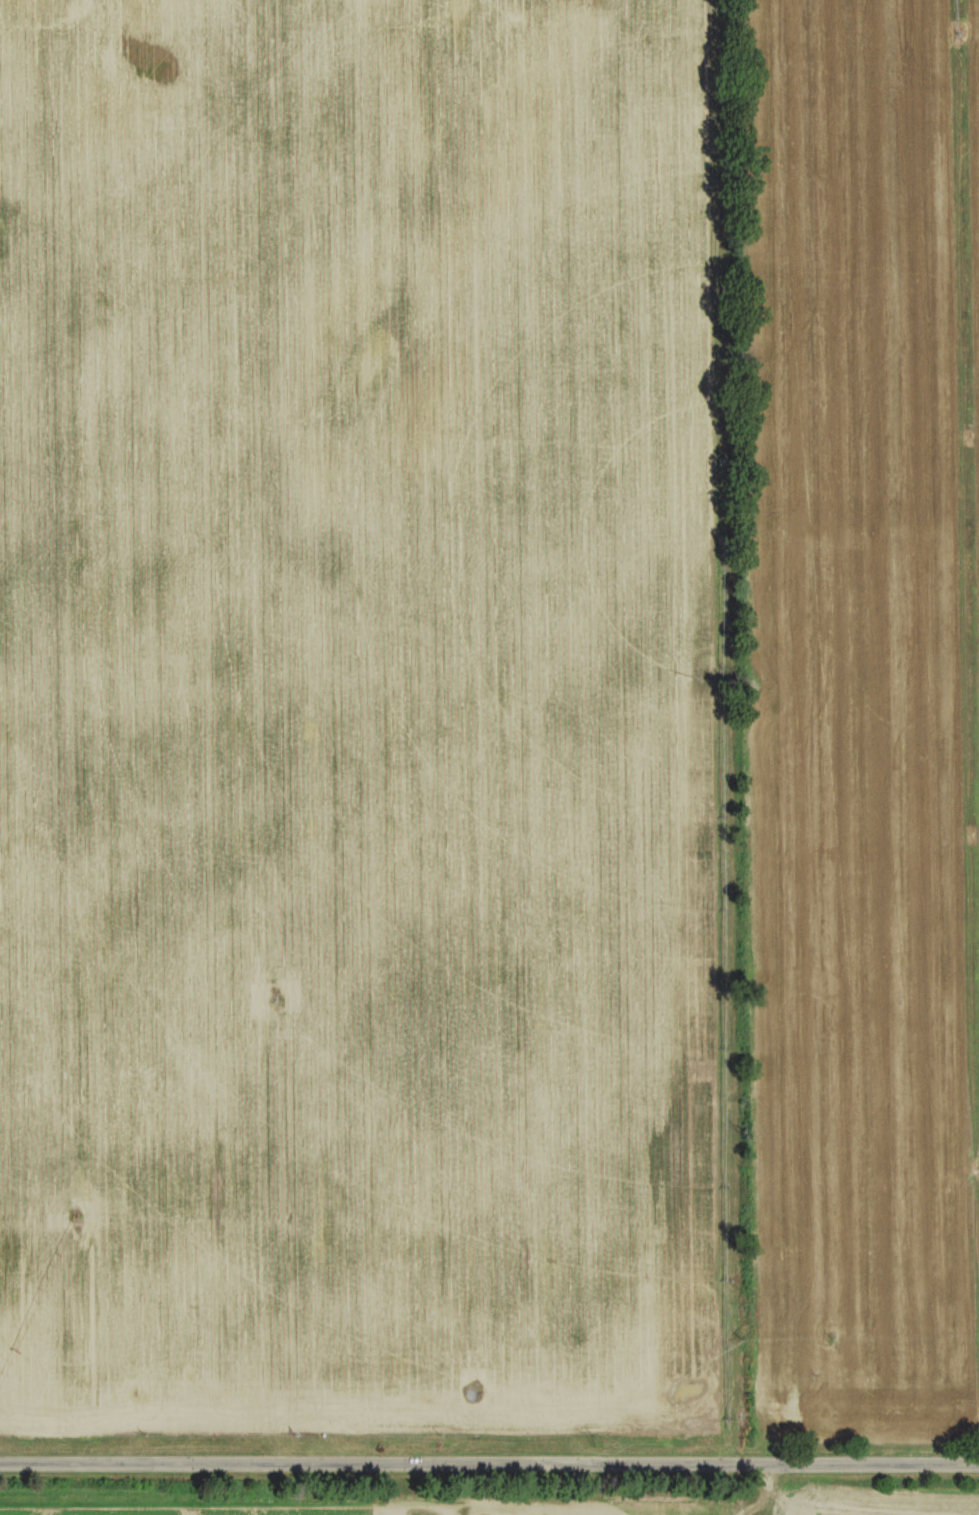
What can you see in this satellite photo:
crop: (854, 714)
crop: (364, 719)
road: (489, 1456)
crop: (867, 1500)
crop: (319, 1507)

